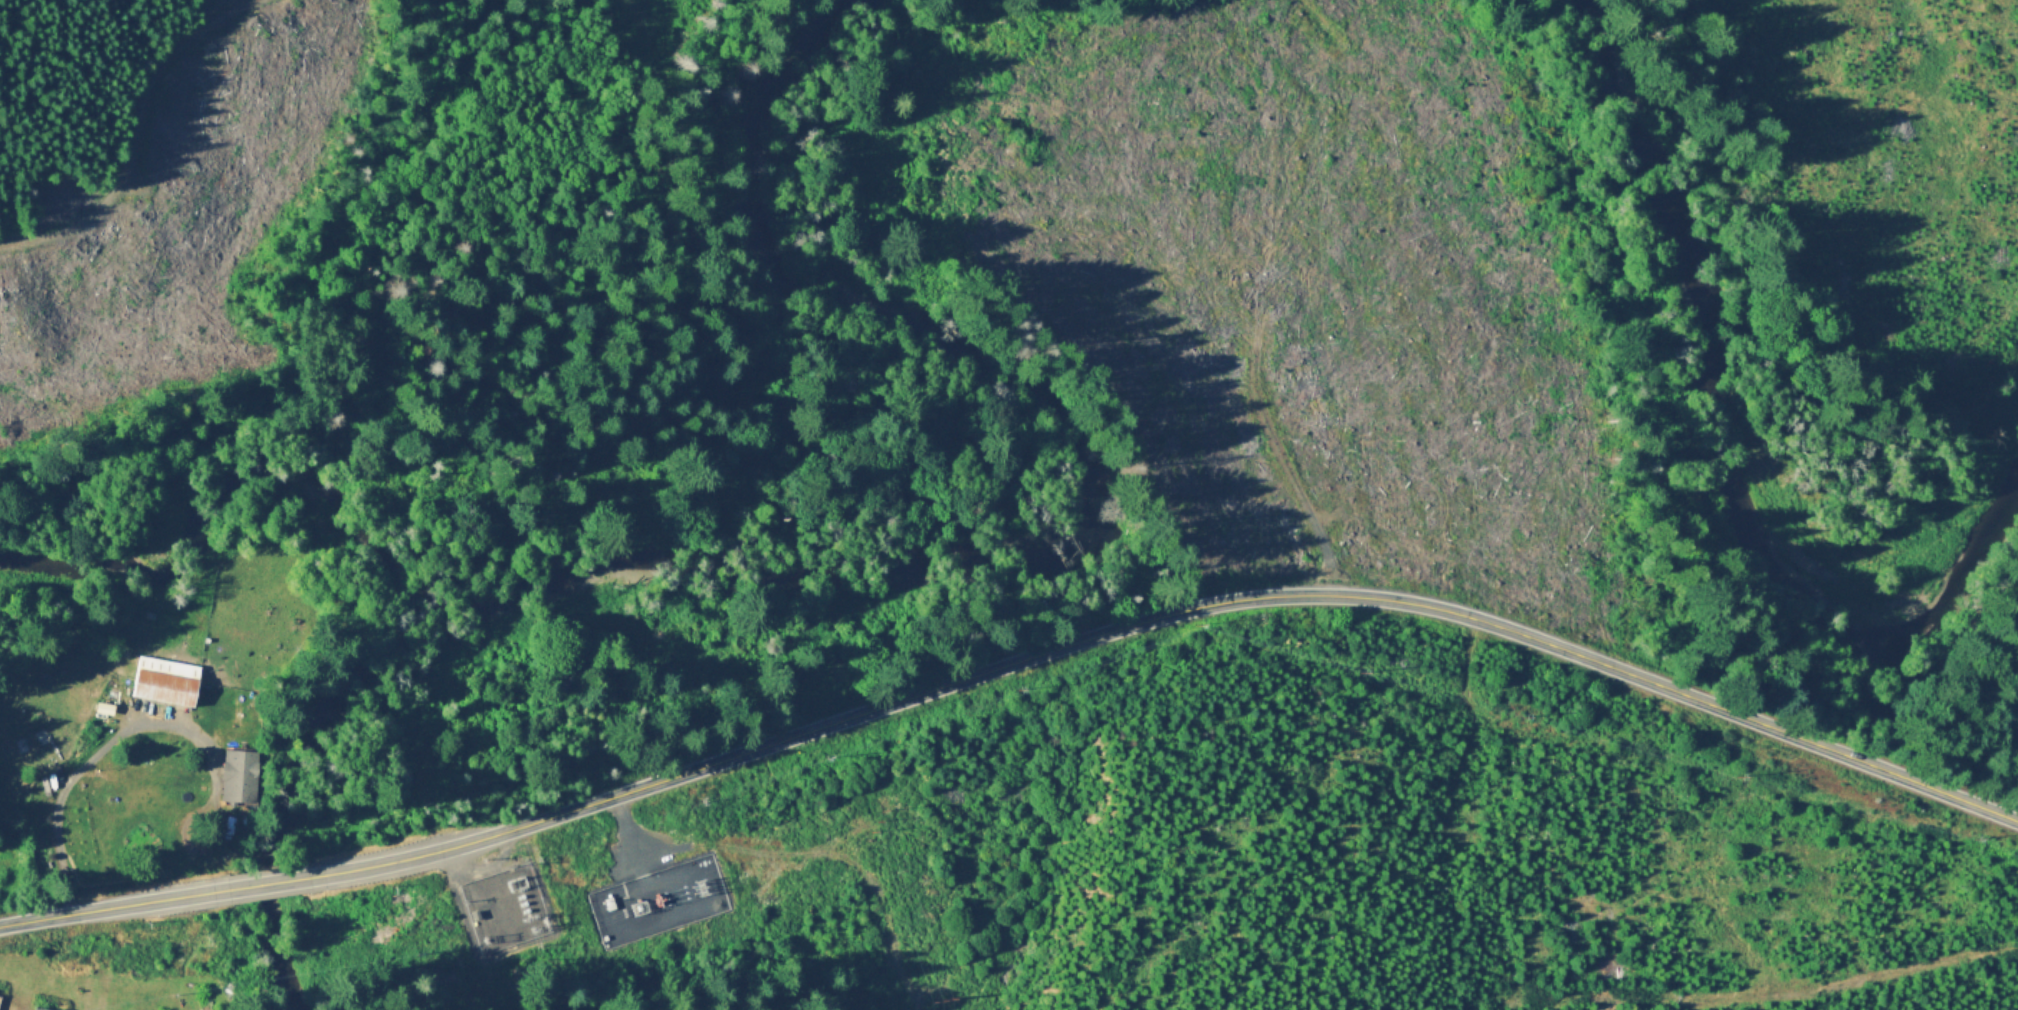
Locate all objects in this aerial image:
road: (138, 138)
river: (1743, 372)
river: (899, 553)
road: (1014, 662)
building: (168, 681)
road: (99, 748)
building: (241, 775)
road: (494, 883)
power substation: (657, 901)
power substation: (503, 906)
road: (626, 929)
road: (1806, 990)
building: (0, 996)
building: (42, 1008)

